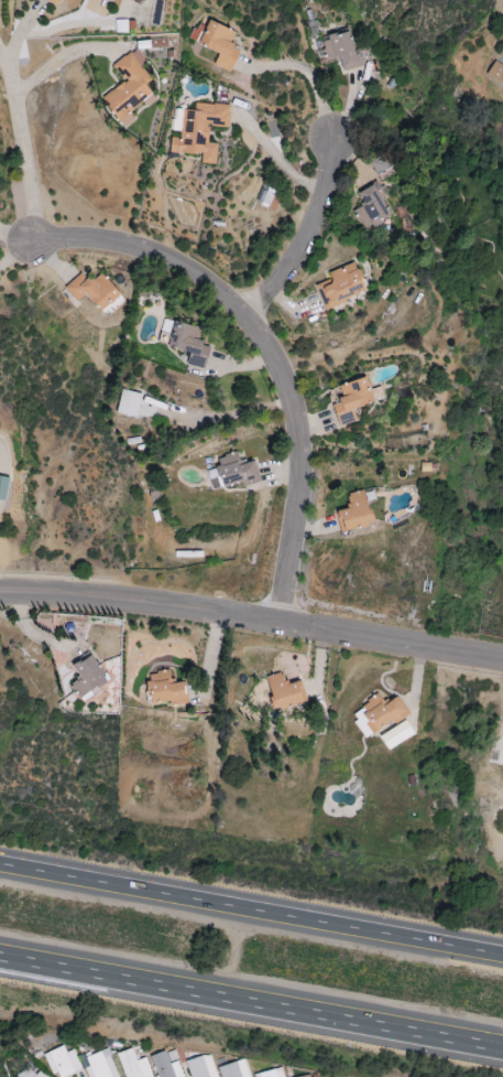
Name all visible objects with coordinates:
building: (54, 1)
building: (217, 42)
building: (341, 50)
road: (58, 61)
building: (495, 73)
road: (311, 79)
building: (129, 88)
building: (200, 131)
road: (18, 144)
road: (274, 158)
building: (382, 163)
building: (371, 208)
road: (13, 236)
road: (304, 237)
building: (342, 286)
building: (92, 290)
road: (269, 354)
building: (352, 400)
building: (129, 403)
building: (231, 473)
building: (3, 487)
building: (356, 513)
road: (252, 624)
building: (89, 678)
building: (165, 689)
building: (284, 692)
building: (378, 715)
building: (397, 735)
road: (251, 913)
road: (251, 1006)
building: (63, 1062)
building: (99, 1065)
building: (132, 1065)
building: (165, 1065)
building: (201, 1067)
building: (29, 1073)
building: (271, 1074)
building: (243, 1075)
building: (314, 1076)

